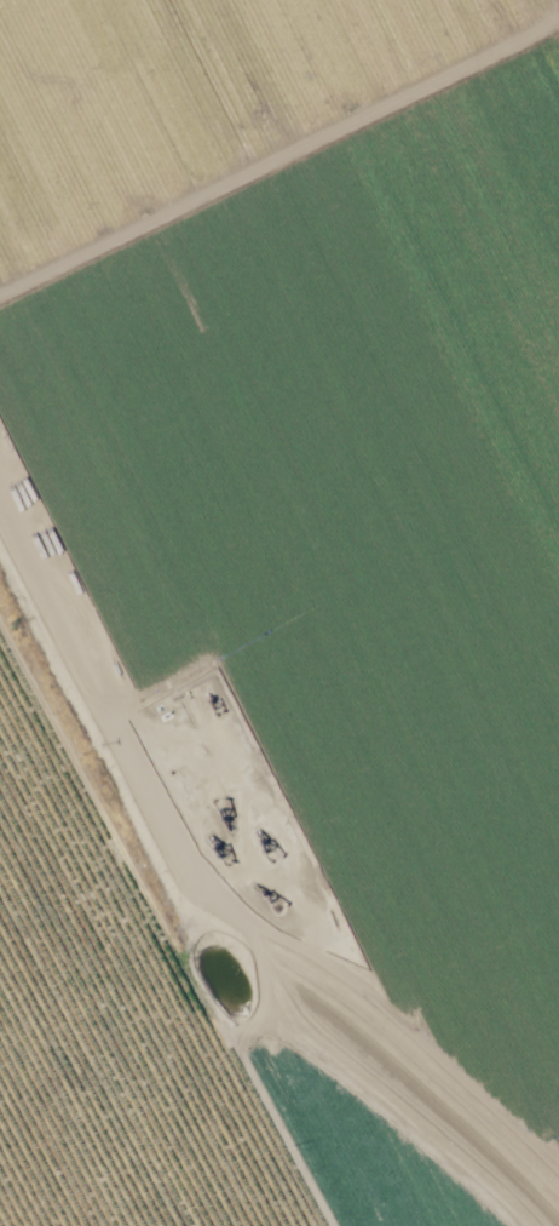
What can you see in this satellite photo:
crop: (279, 613)
road: (223, 854)

